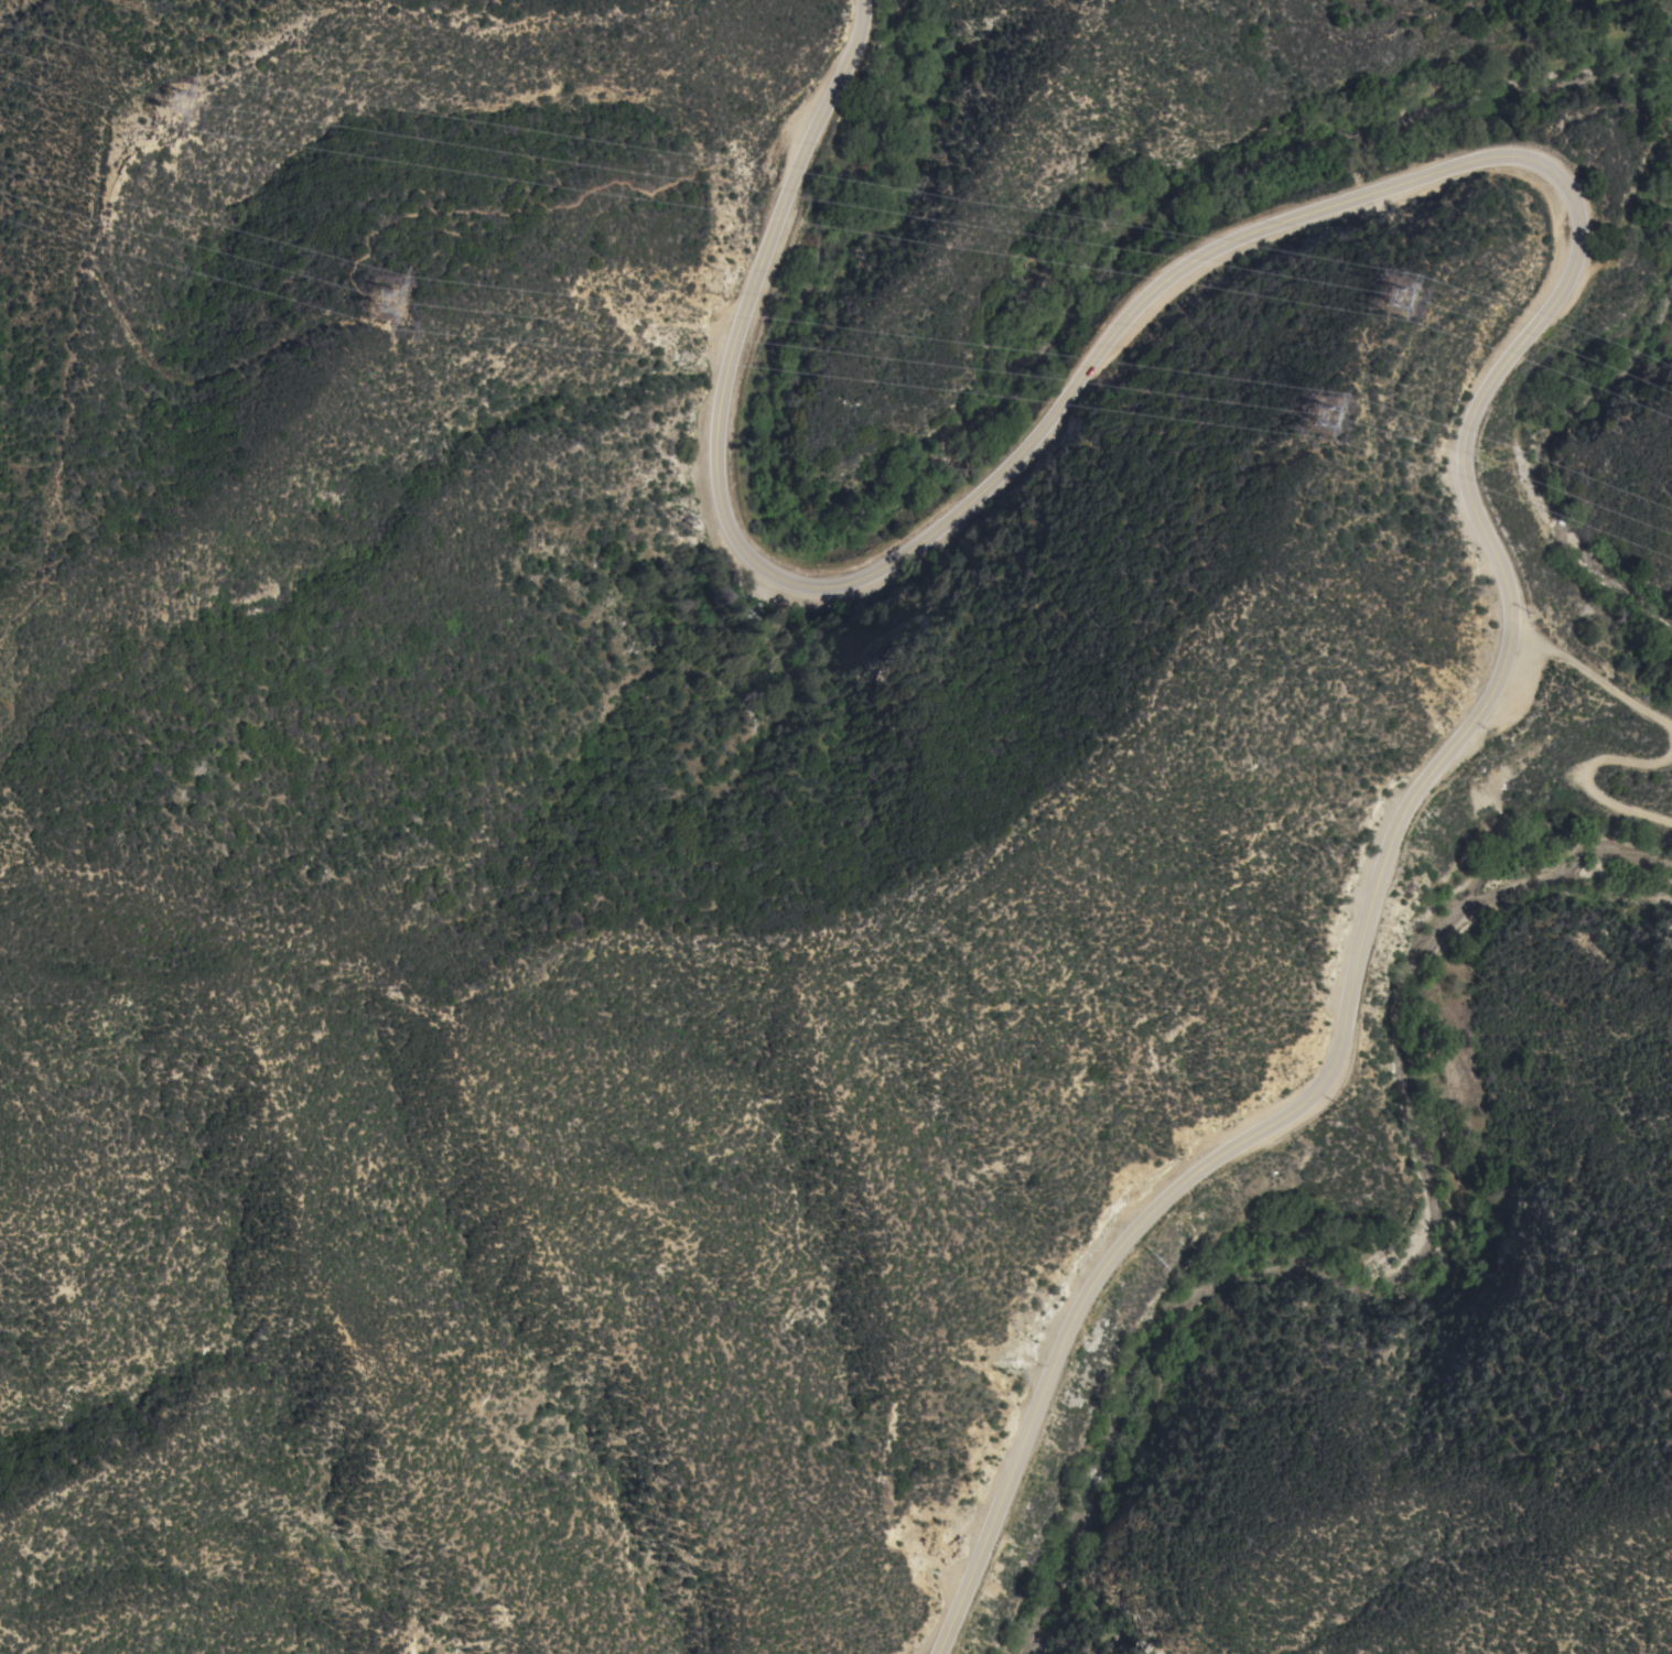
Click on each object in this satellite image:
power tower: (177, 108)
road: (1577, 242)
power tower: (399, 310)
power tower: (1416, 312)
power tower: (1339, 430)
road: (1590, 680)
road: (1587, 779)

